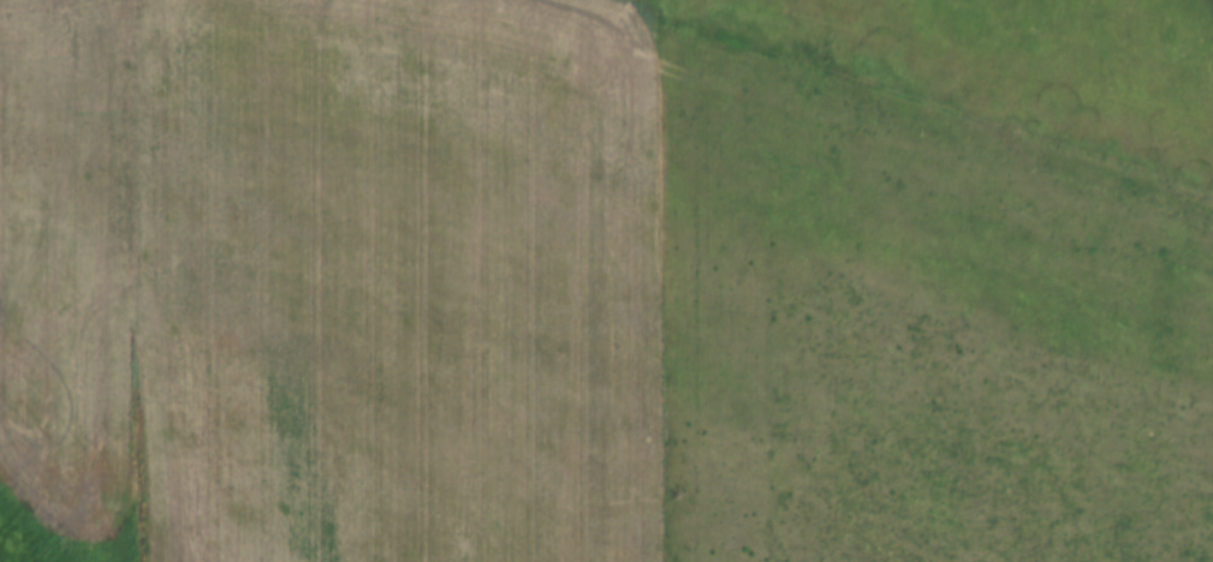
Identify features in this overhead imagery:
quarry: (1212, 0)

